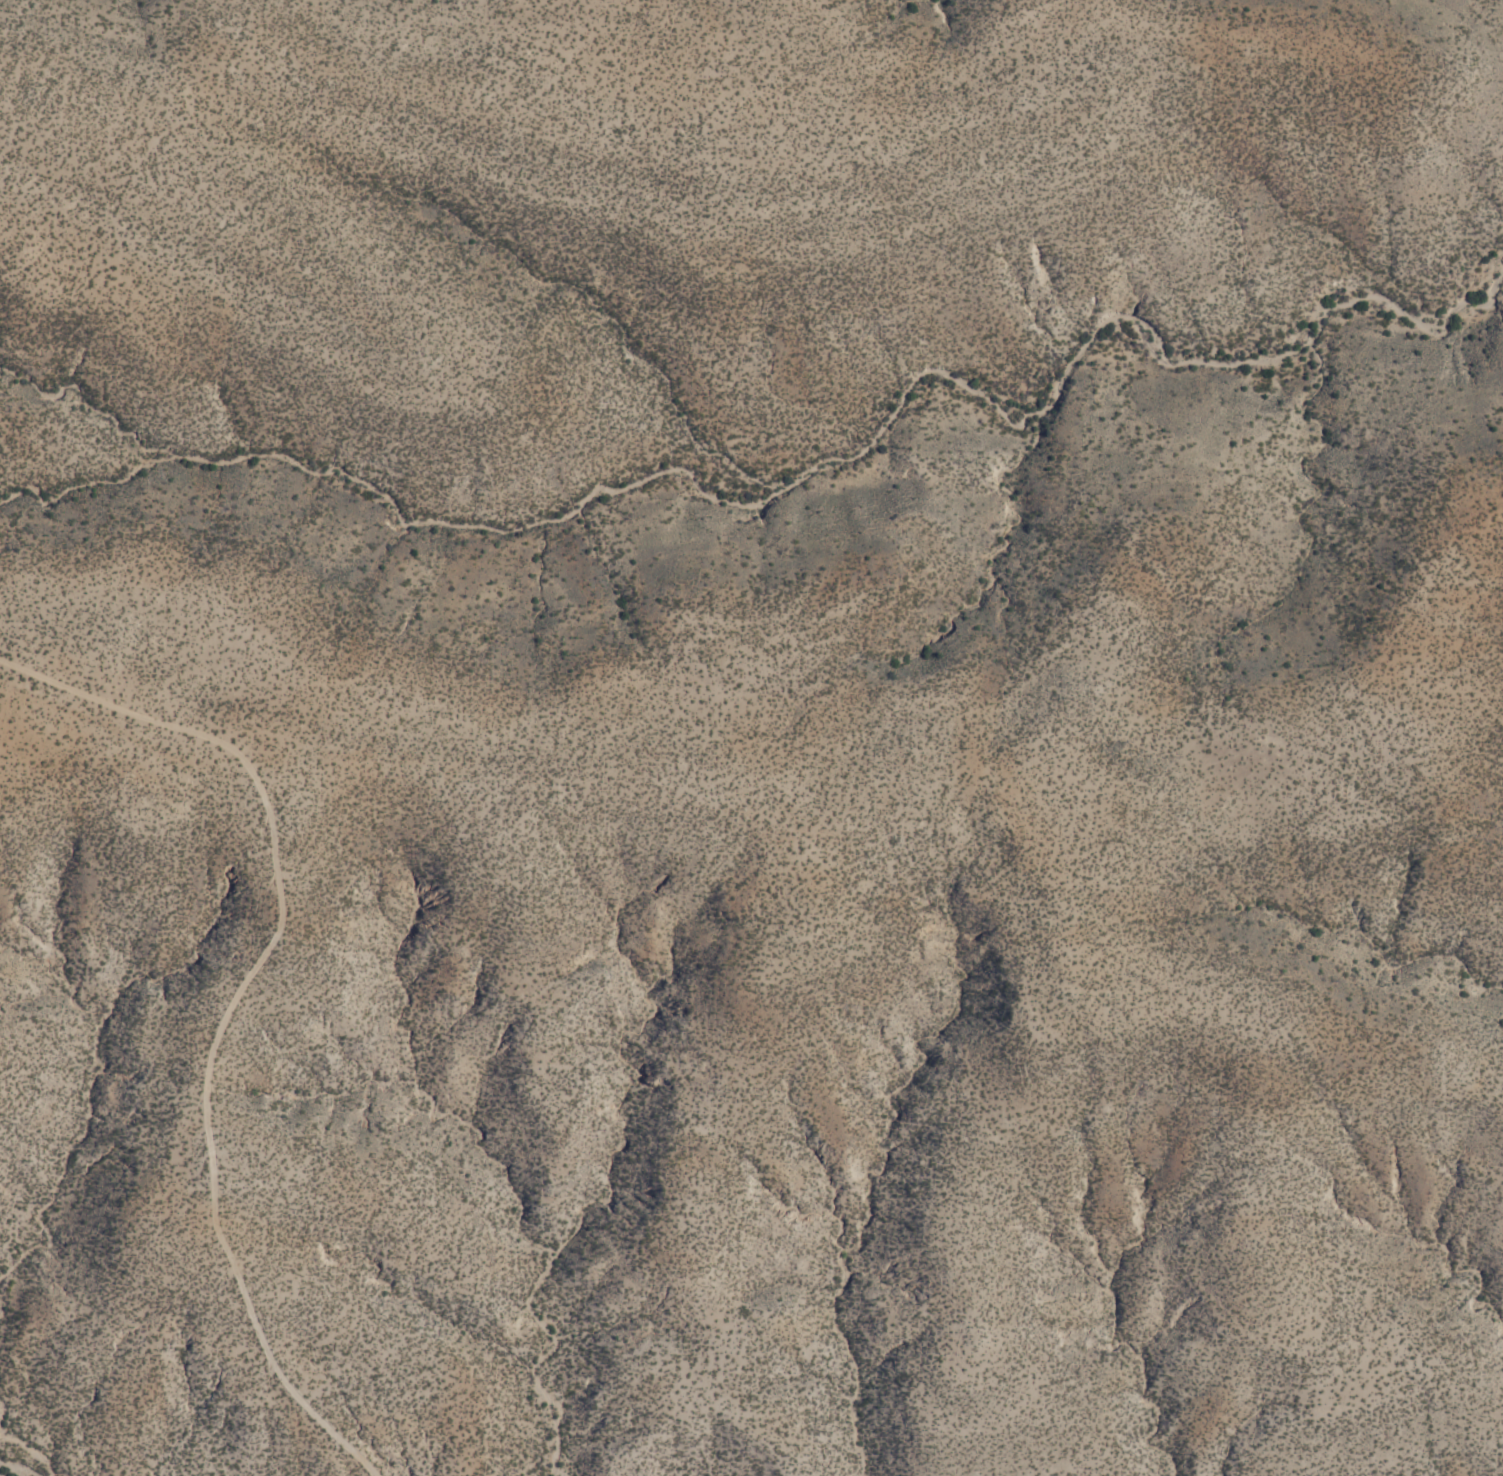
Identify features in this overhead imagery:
road: (229, 1005)

